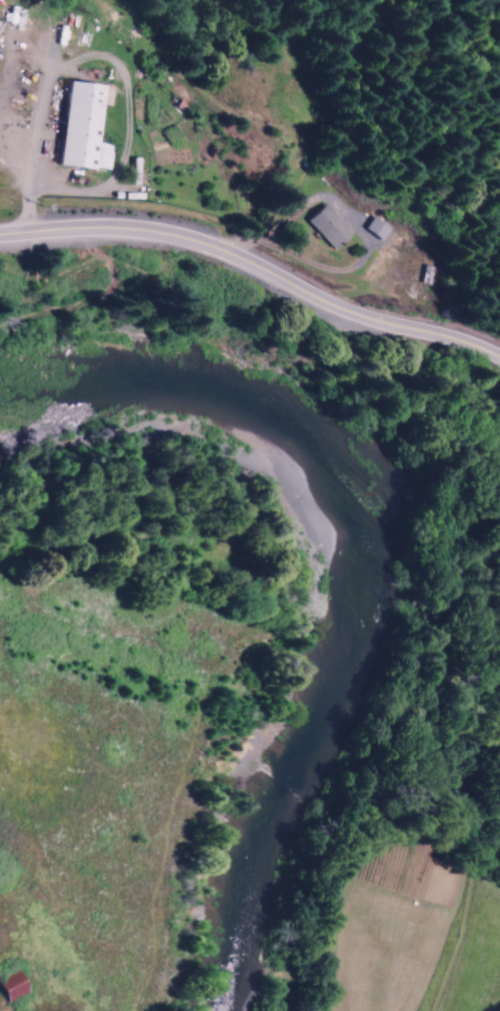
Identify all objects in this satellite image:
building: (80, 128)
building: (325, 227)
building: (375, 230)
road: (255, 269)
river: (369, 565)
building: (11, 992)

